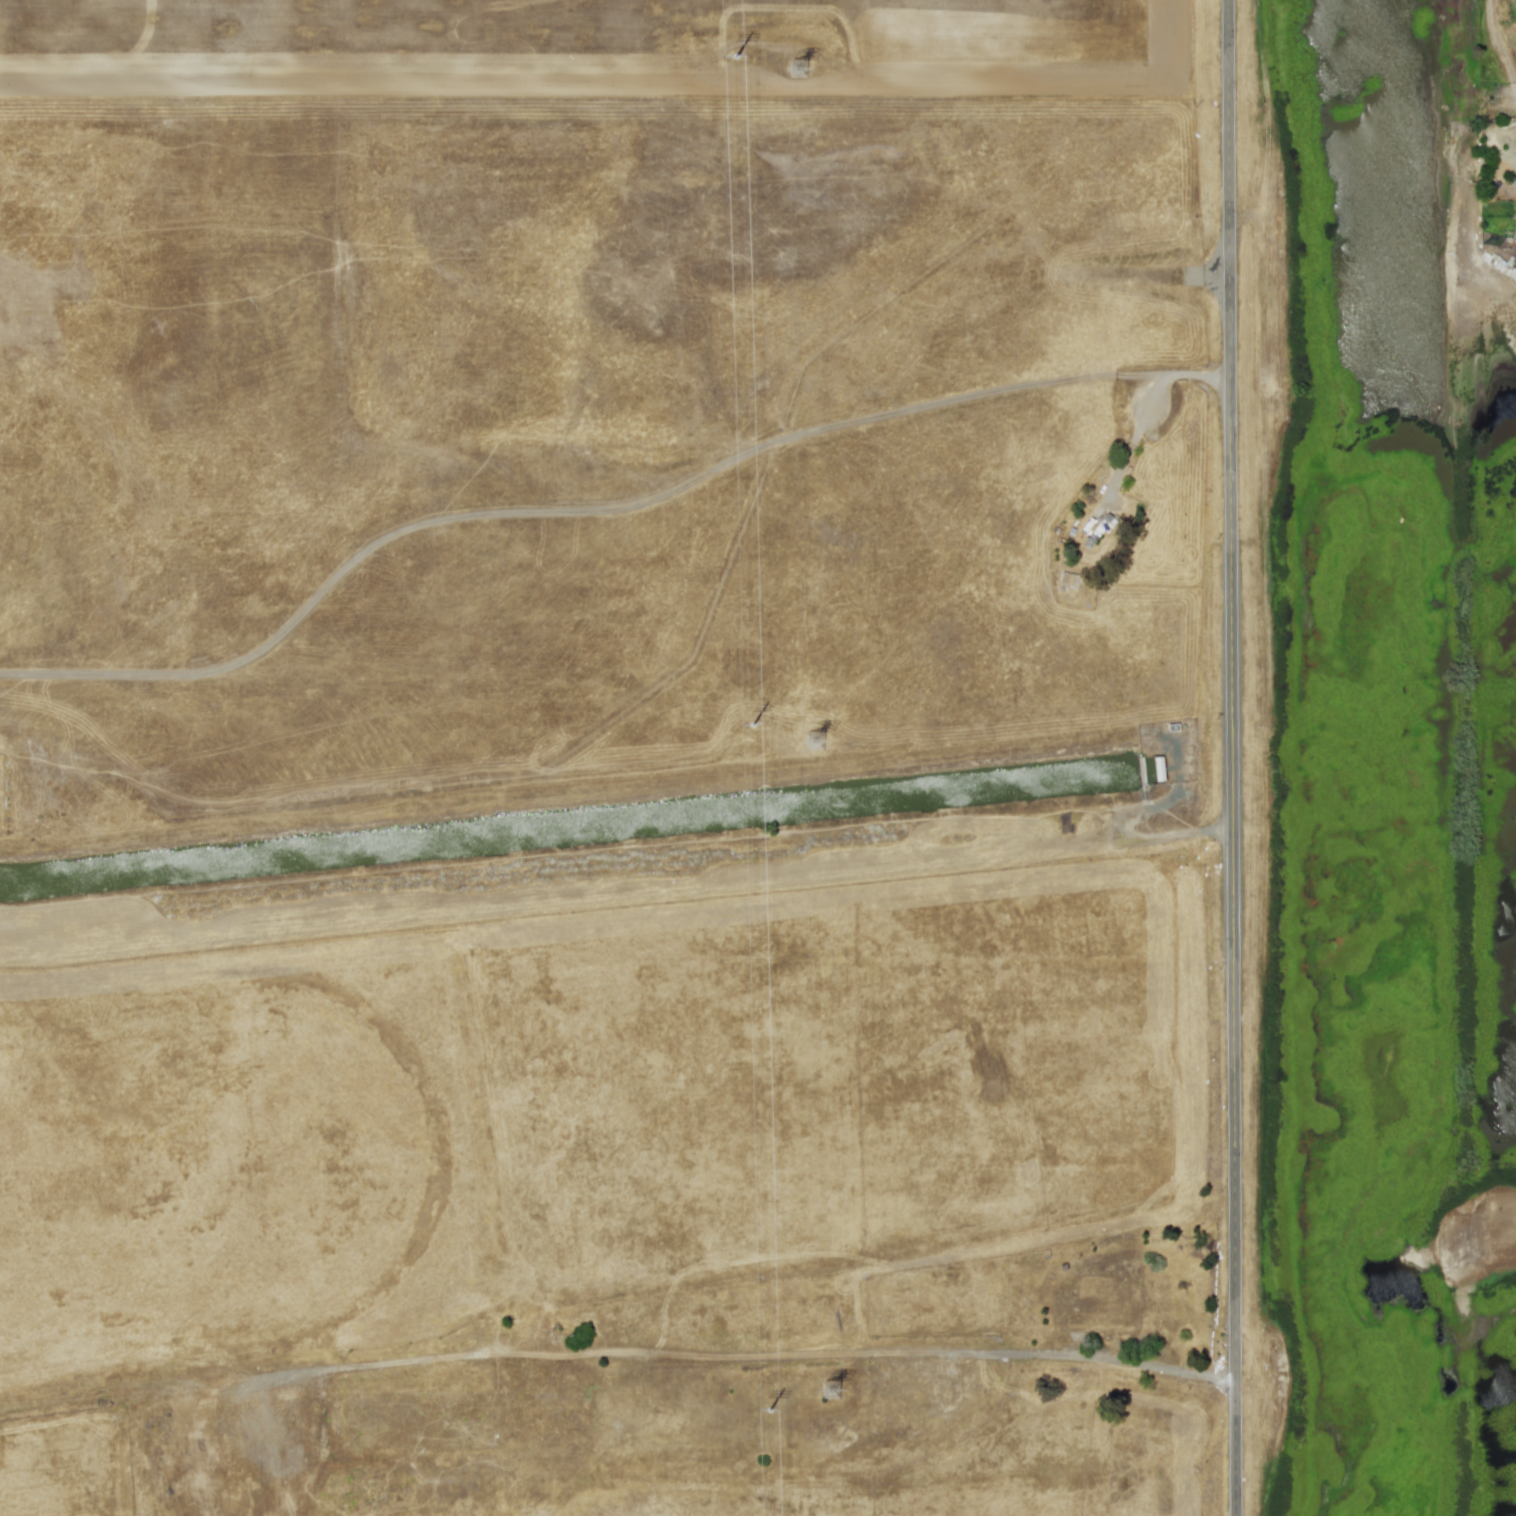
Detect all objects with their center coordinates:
road: (1463, 51)
power tower: (801, 71)
road: (1490, 102)
road: (1143, 405)
road: (570, 508)
building: (1066, 579)
power tower: (818, 743)
road: (1231, 758)
building: (1158, 769)
road: (1469, 809)
power tower: (835, 1393)

